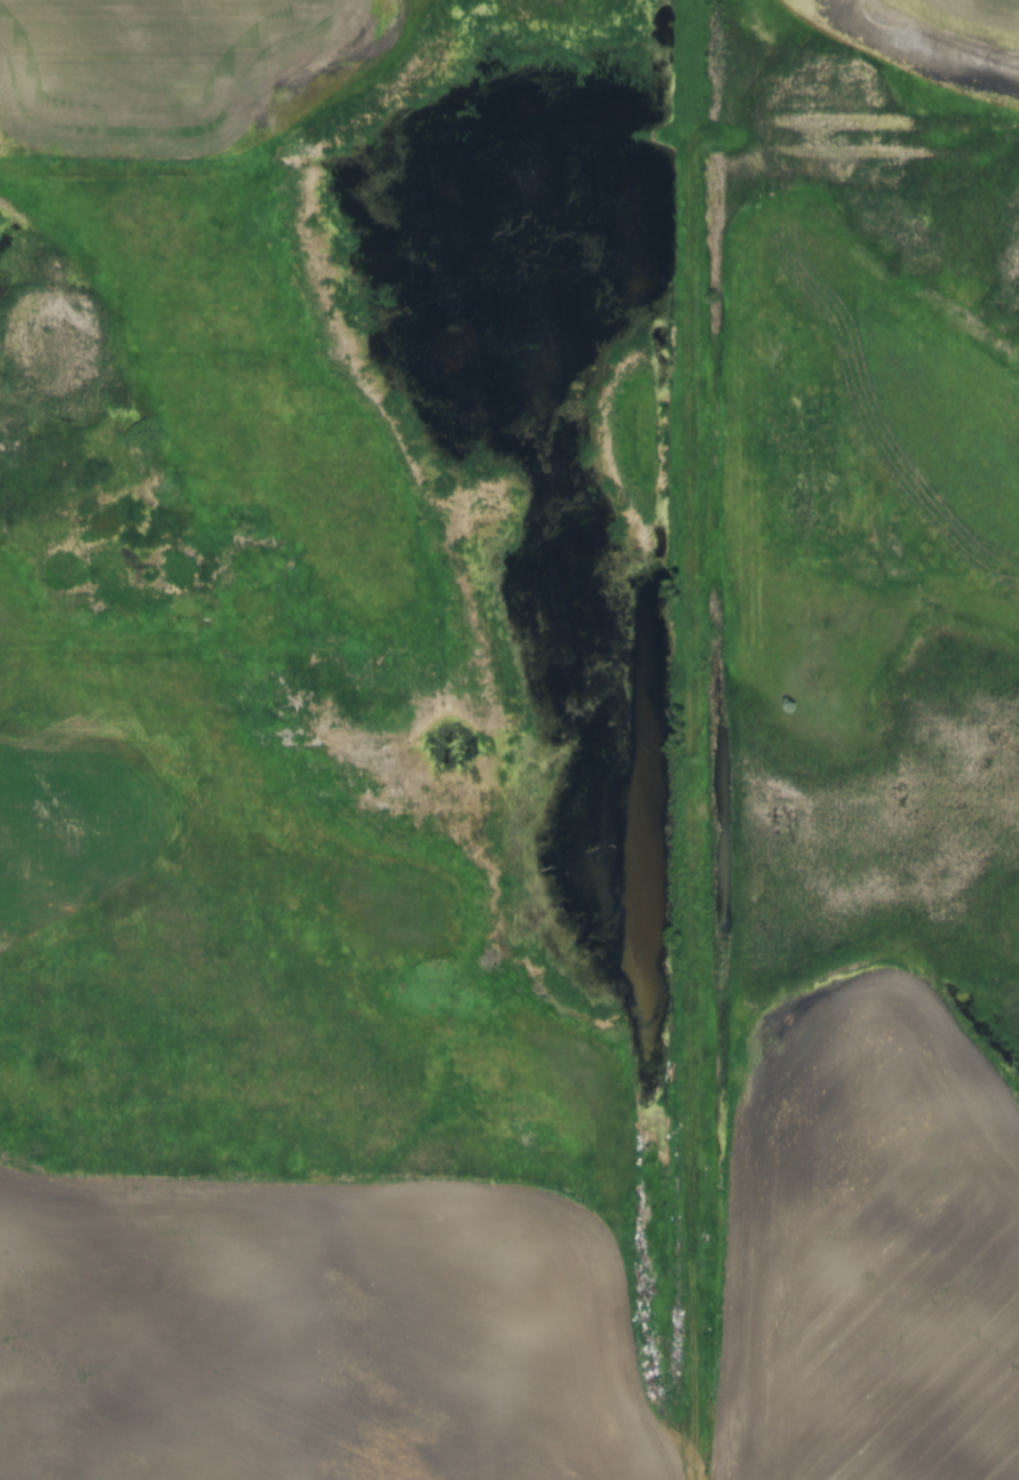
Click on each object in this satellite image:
road: (702, 740)

